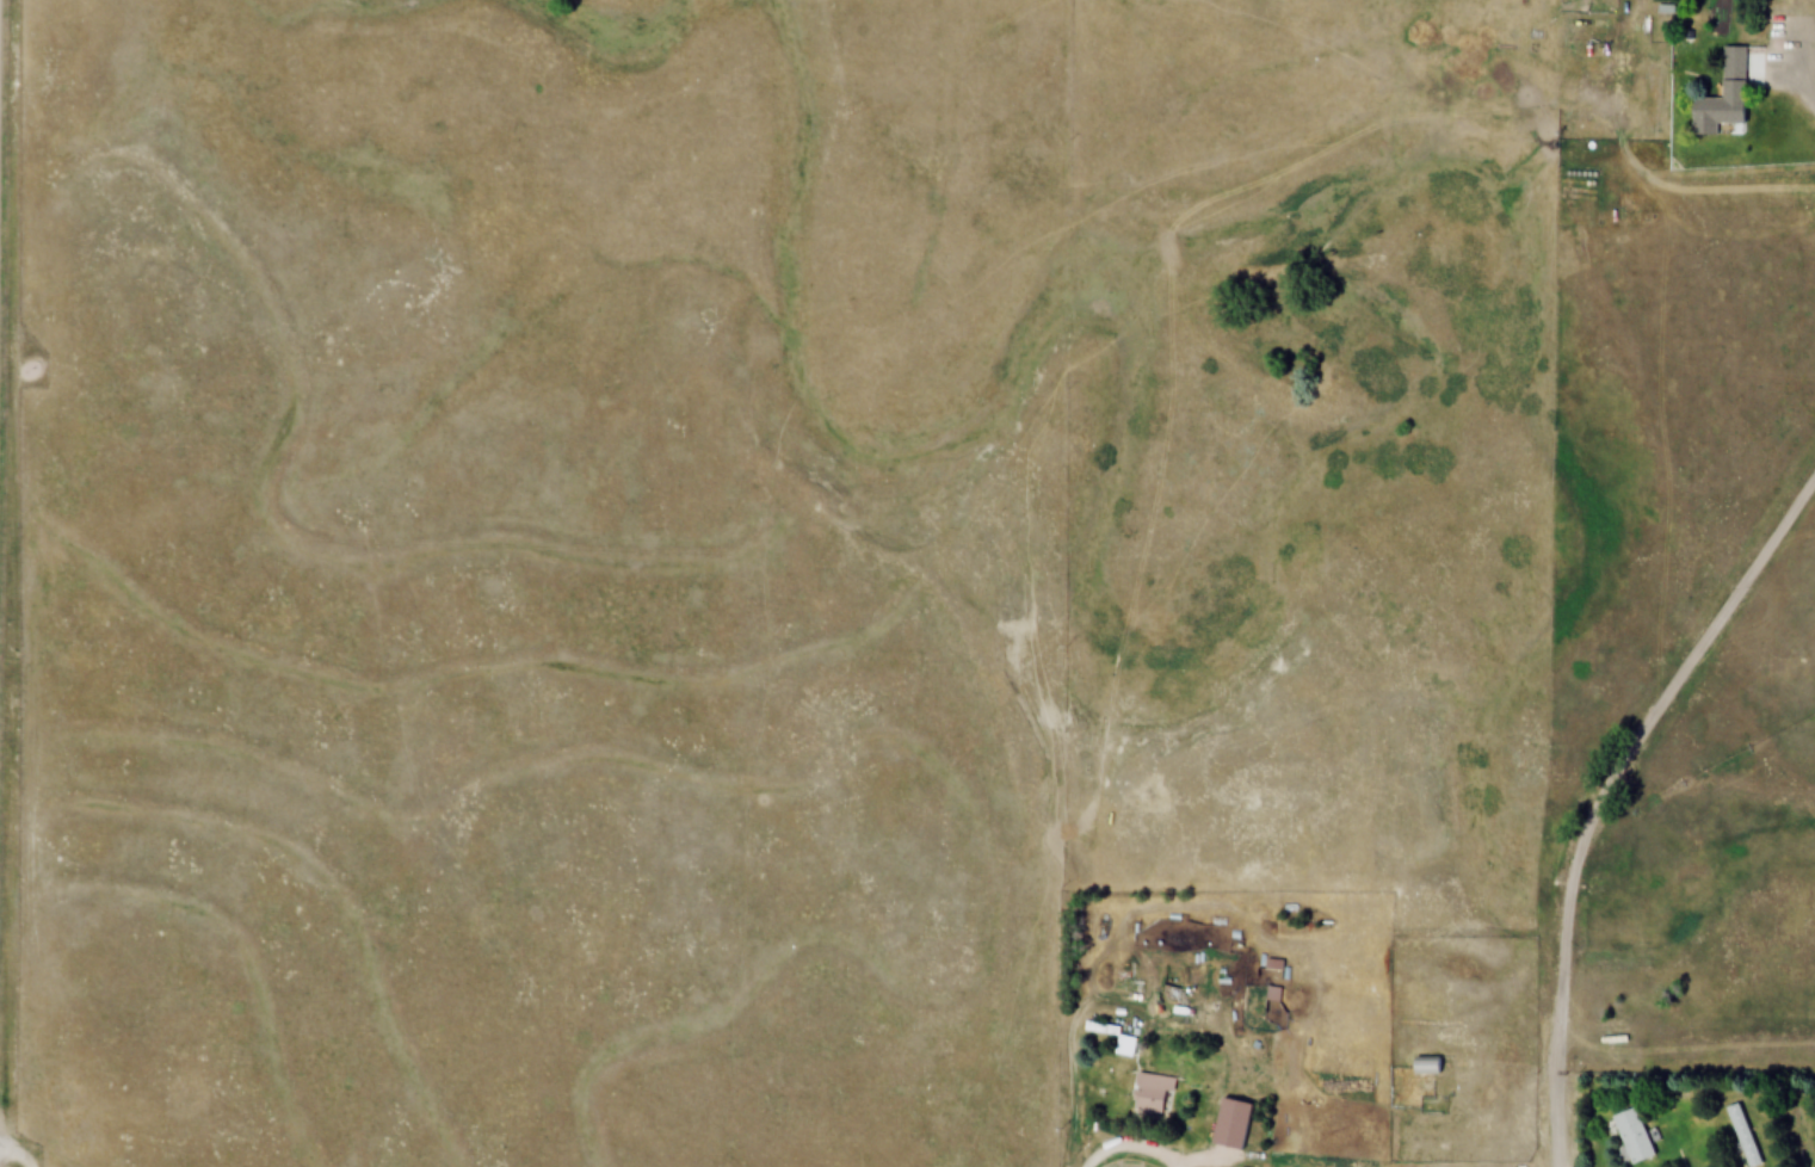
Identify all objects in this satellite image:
building: (1735, 62)
building: (1722, 111)
road: (1810, 115)
road: (1685, 661)
road: (1564, 1017)
building: (1098, 1029)
building: (1426, 1066)
building: (1152, 1094)
building: (1231, 1122)
building: (1632, 1136)
road: (1106, 1150)
road: (1150, 1154)
road: (11, 1160)

